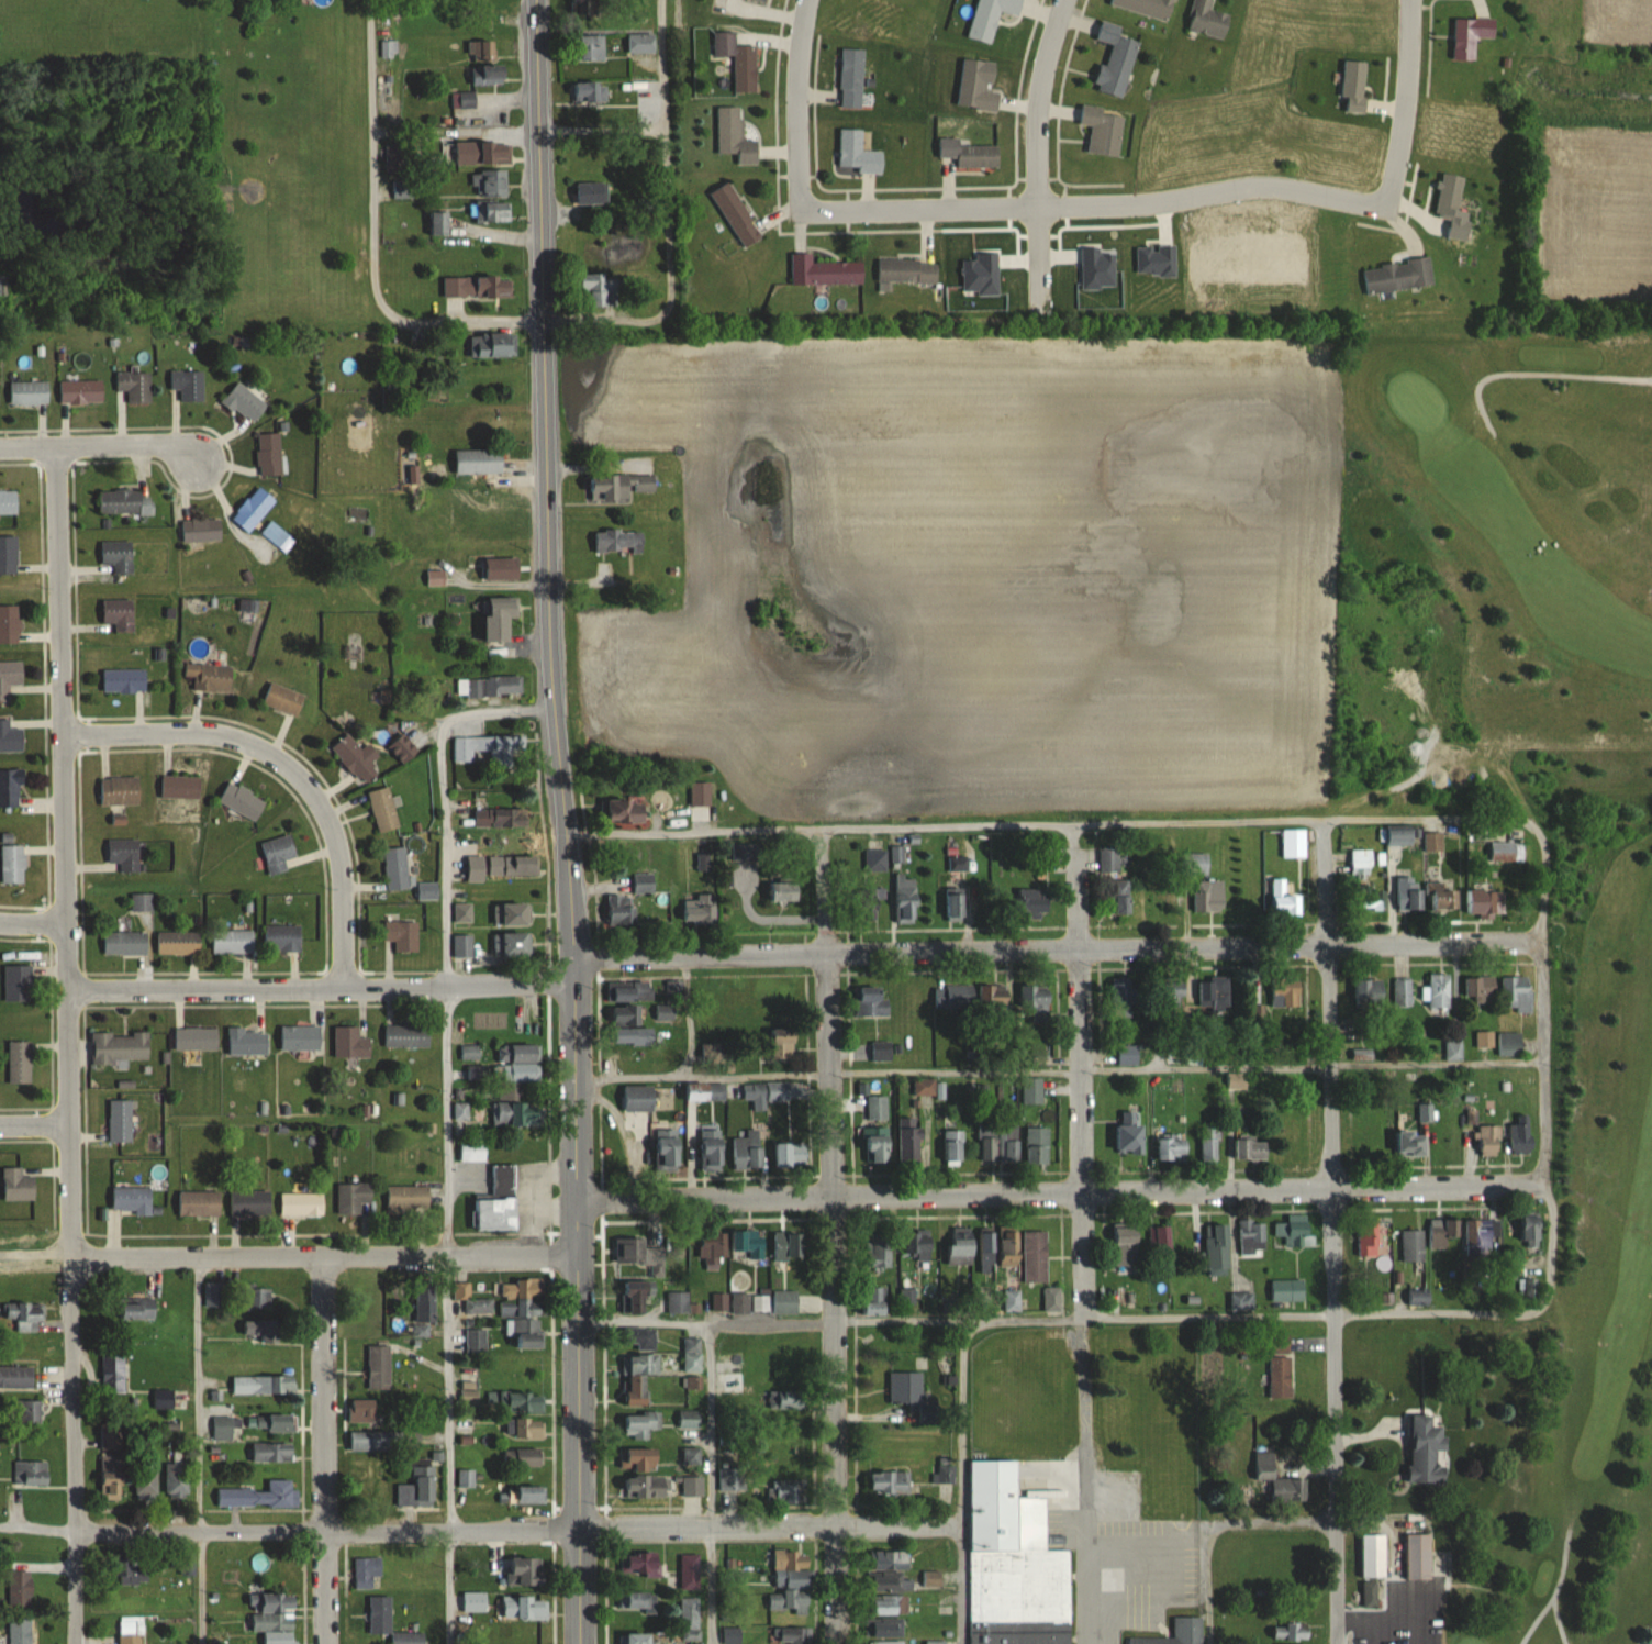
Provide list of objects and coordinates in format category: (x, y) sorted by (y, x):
building: (767, 0)
building: (1147, 7)
building: (990, 18)
building: (1207, 19)
building: (1471, 35)
building: (640, 43)
building: (591, 46)
building: (388, 48)
building: (482, 51)
building: (1115, 59)
building: (738, 60)
building: (488, 74)
building: (851, 78)
building: (1353, 85)
building: (976, 86)
building: (585, 90)
building: (1101, 130)
building: (735, 136)
road: (1038, 152)
building: (482, 153)
building: (857, 154)
building: (968, 154)
building: (490, 184)
building: (402, 189)
building: (591, 193)
road: (1092, 204)
building: (492, 212)
building: (736, 214)
road: (667, 218)
building: (438, 224)
road: (372, 235)
building: (824, 271)
building: (906, 271)
building: (1397, 276)
building: (2, 286)
building: (477, 287)
building: (600, 289)
building: (491, 345)
road: (1540, 375)
building: (188, 385)
building: (134, 386)
building: (81, 392)
building: (29, 393)
building: (245, 403)
road: (101, 446)
building: (269, 455)
building: (479, 462)
building: (619, 487)
building: (8, 502)
building: (124, 502)
building: (253, 510)
building: (201, 530)
building: (618, 542)
building: (8, 555)
building: (118, 556)
building: (501, 568)
building: (435, 578)
building: (119, 614)
building: (500, 618)
building: (9, 623)
building: (208, 676)
building: (9, 677)
building: (124, 680)
building: (489, 686)
building: (283, 698)
building: (10, 737)
building: (402, 748)
building: (487, 748)
building: (356, 755)
road: (291, 770)
building: (180, 786)
building: (10, 788)
building: (120, 790)
building: (242, 800)
building: (383, 809)
building: (627, 810)
road: (1488, 812)
building: (493, 817)
road: (565, 821)
building: (1399, 835)
building: (1432, 841)
building: (1293, 843)
building: (1506, 852)
building: (277, 853)
building: (124, 854)
building: (1108, 859)
building: (874, 860)
building: (12, 862)
building: (1361, 862)
building: (515, 864)
building: (1198, 864)
building: (395, 868)
building: (644, 882)
building: (783, 891)
building: (1408, 893)
building: (1208, 895)
building: (1121, 897)
building: (1441, 897)
building: (1283, 899)
building: (905, 900)
building: (141, 901)
building: (1480, 901)
building: (1164, 902)
building: (956, 903)
building: (1032, 903)
building: (868, 906)
building: (619, 911)
building: (699, 912)
building: (512, 913)
road: (34, 922)
road: (445, 932)
building: (402, 935)
building: (281, 938)
building: (233, 941)
building: (178, 942)
building: (124, 943)
building: (512, 944)
building: (461, 945)
road: (1053, 949)
building: (18, 982)
road: (322, 989)
building: (1481, 989)
building: (673, 990)
building: (1172, 990)
building: (1438, 990)
building: (628, 991)
building: (1214, 991)
building: (1369, 992)
building: (1402, 992)
building: (1285, 993)
building: (1516, 993)
building: (1000, 995)
building: (955, 998)
building: (1123, 998)
building: (871, 1000)
building: (1037, 1001)
building: (527, 1014)
building: (625, 1015)
building: (406, 1036)
building: (630, 1036)
building: (300, 1037)
building: (196, 1038)
building: (247, 1041)
building: (349, 1043)
building: (783, 1043)
building: (1508, 1044)
road: (70, 1045)
building: (120, 1047)
building: (881, 1051)
building: (1127, 1055)
building: (19, 1062)
building: (517, 1063)
road: (1408, 1063)
building: (1236, 1081)
building: (924, 1087)
building: (1031, 1090)
building: (784, 1091)
building: (638, 1099)
building: (877, 1108)
building: (510, 1113)
building: (120, 1121)
road: (34, 1123)
building: (1129, 1134)
building: (1521, 1134)
building: (1489, 1140)
building: (911, 1142)
building: (1009, 1143)
building: (877, 1144)
building: (985, 1144)
building: (1037, 1144)
building: (1209, 1144)
building: (1410, 1144)
building: (953, 1146)
building: (1172, 1147)
building: (712, 1148)
building: (1250, 1148)
building: (668, 1149)
building: (472, 1151)
building: (747, 1153)
building: (790, 1153)
building: (18, 1185)
road: (1061, 1191)
building: (351, 1198)
building: (408, 1198)
building: (132, 1200)
building: (499, 1200)
building: (249, 1202)
building: (199, 1203)
building: (301, 1203)
road: (1081, 1220)
building: (1530, 1230)
building: (1295, 1231)
road: (1337, 1233)
road: (831, 1234)
building: (1442, 1234)
building: (1252, 1235)
building: (1161, 1237)
building: (1217, 1237)
building: (1368, 1237)
building: (1483, 1237)
building: (748, 1243)
building: (920, 1243)
building: (1126, 1244)
building: (1411, 1244)
building: (961, 1245)
building: (1008, 1245)
building: (786, 1246)
building: (987, 1246)
building: (711, 1247)
building: (880, 1248)
building: (639, 1253)
road: (36, 1255)
road: (325, 1256)
building: (1035, 1256)
building: (1287, 1289)
building: (213, 1295)
building: (258, 1297)
building: (521, 1297)
building: (636, 1297)
building: (1052, 1298)
building: (873, 1300)
building: (1240, 1300)
building: (424, 1301)
building: (739, 1302)
building: (784, 1302)
building: (478, 1306)
building: (136, 1308)
building: (24, 1315)
road: (898, 1319)
road: (705, 1322)
building: (261, 1330)
building: (527, 1332)
building: (640, 1338)
building: (476, 1340)
building: (691, 1354)
road: (965, 1365)
building: (378, 1366)
building: (113, 1373)
building: (1280, 1375)
building: (640, 1376)
building: (16, 1377)
building: (733, 1382)
building: (264, 1385)
building: (905, 1387)
building: (167, 1398)
building: (786, 1399)
building: (520, 1401)
building: (25, 1412)
building: (689, 1420)
building: (280, 1422)
road: (710, 1423)
building: (640, 1424)
building: (224, 1428)
building: (525, 1428)
building: (112, 1436)
building: (373, 1440)
road: (327, 1449)
road: (193, 1451)
road: (446, 1451)
building: (1428, 1451)
building: (271, 1452)
building: (528, 1457)
building: (639, 1458)
building: (30, 1473)
building: (692, 1473)
building: (938, 1473)
building: (112, 1476)
building: (466, 1477)
building: (177, 1478)
building: (730, 1479)
building: (1277, 1479)
building: (146, 1481)
building: (888, 1482)
building: (417, 1487)
building: (647, 1487)
building: (784, 1490)
building: (259, 1495)
building: (527, 1495)
road: (771, 1524)
road: (1280, 1524)
road: (330, 1529)
building: (1373, 1556)
building: (1418, 1556)
building: (892, 1559)
building: (1013, 1563)
building: (640, 1564)
building: (132, 1569)
building: (367, 1570)
building: (524, 1570)
building: (690, 1571)
building: (892, 1582)
road: (961, 1584)
road: (710, 1585)
road: (1556, 1588)
building: (20, 1589)
building: (1369, 1593)
road: (1396, 1593)
building: (790, 1597)
parking lot: (1402, 1597)
building: (637, 1600)
building: (475, 1601)
building: (889, 1604)
building: (524, 1608)
building: (689, 1612)
road: (1366, 1617)
building: (276, 1618)
road: (1562, 1618)
building: (389, 1622)
building: (888, 1628)
road: (1086, 1630)
building: (20, 1631)
building: (131, 1632)
building: (1176, 1633)
building: (732, 1635)
building: (793, 1635)
building: (636, 1637)
building: (888, 1642)
building: (935, 1642)

